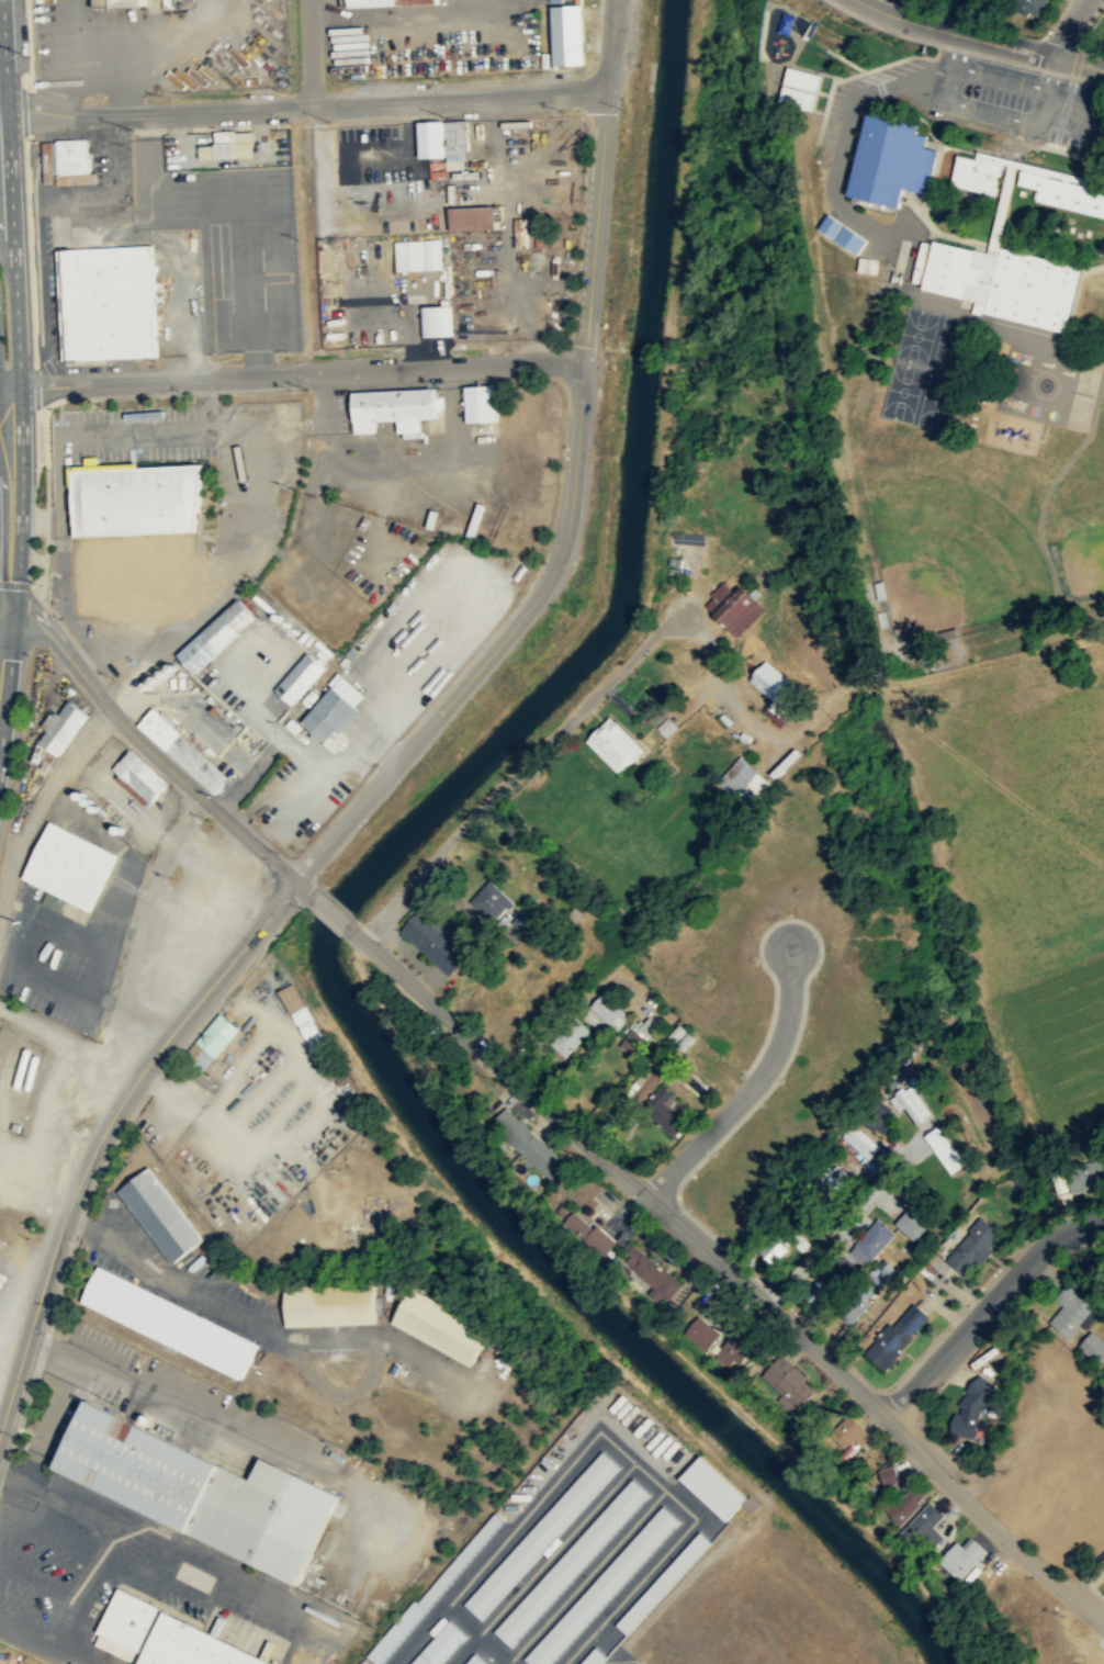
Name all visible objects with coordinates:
building: (382, 1)
building: (113, 2)
building: (1028, 7)
road: (897, 15)
road: (1067, 31)
building: (567, 35)
building: (824, 37)
road: (1022, 41)
road: (610, 45)
road: (312, 52)
road: (3, 54)
road: (1019, 55)
road: (2, 72)
building: (799, 88)
road: (306, 104)
road: (3, 106)
building: (443, 138)
building: (224, 145)
building: (75, 155)
building: (890, 160)
building: (971, 175)
building: (1061, 191)
building: (473, 217)
building: (837, 233)
building: (417, 255)
building: (879, 272)
building: (998, 282)
building: (111, 302)
building: (435, 321)
road: (20, 361)
road: (292, 378)
building: (481, 403)
building: (393, 408)
building: (140, 496)
road: (566, 531)
building: (734, 608)
traffic signals: (15, 616)
building: (216, 637)
road: (64, 650)
building: (300, 678)
road: (10, 685)
building: (774, 688)
building: (334, 711)
building: (61, 727)
building: (615, 744)
building: (183, 751)
road: (523, 775)
building: (138, 777)
building: (745, 783)
road: (43, 802)
road: (234, 825)
crop: (1022, 859)
building: (69, 867)
building: (489, 900)
building: (435, 940)
building: (609, 1012)
building: (304, 1019)
building: (638, 1035)
building: (572, 1037)
building: (211, 1045)
building: (645, 1082)
road: (751, 1090)
building: (910, 1104)
building: (665, 1110)
building: (879, 1118)
road: (103, 1134)
building: (860, 1142)
building: (528, 1143)
building: (943, 1149)
building: (1085, 1174)
building: (831, 1180)
building: (160, 1214)
building: (913, 1222)
building: (588, 1234)
building: (871, 1243)
building: (973, 1247)
building: (775, 1251)
building: (843, 1266)
building: (652, 1274)
road: (734, 1277)
building: (819, 1291)
building: (329, 1304)
road: (988, 1308)
building: (854, 1311)
building: (1070, 1312)
building: (169, 1323)
building: (440, 1325)
building: (700, 1333)
building: (898, 1336)
building: (1093, 1347)
building: (735, 1351)
building: (788, 1384)
road: (63, 1395)
building: (971, 1407)
building: (852, 1433)
building: (887, 1477)
road: (551, 1482)
building: (712, 1488)
building: (199, 1491)
road: (666, 1491)
building: (906, 1504)
building: (926, 1526)
building: (541, 1534)
building: (962, 1558)
road: (103, 1562)
road: (542, 1562)
building: (1102, 1562)
building: (571, 1563)
building: (662, 1583)
building: (436, 1587)
building: (602, 1587)
road: (449, 1607)
building: (169, 1635)
building: (438, 1644)
building: (593, 1656)
road: (612, 1656)
building: (474, 1660)
building: (360, 1663)

